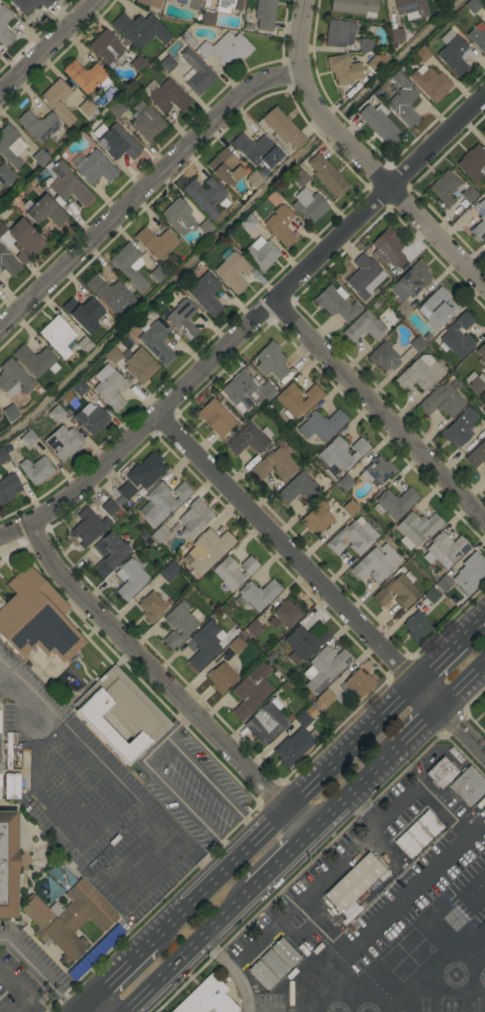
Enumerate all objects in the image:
building: (443, 0)
building: (149, 3)
building: (186, 3)
building: (29, 5)
building: (228, 5)
building: (484, 5)
building: (473, 6)
building: (355, 7)
building: (411, 8)
building: (264, 14)
building: (207, 19)
building: (2, 26)
building: (140, 30)
building: (339, 33)
building: (395, 36)
building: (477, 39)
building: (187, 40)
building: (365, 45)
road: (49, 47)
building: (107, 49)
building: (225, 49)
building: (452, 53)
building: (422, 54)
building: (376, 63)
building: (167, 64)
building: (138, 65)
building: (343, 69)
building: (195, 73)
building: (87, 76)
building: (430, 83)
building: (165, 95)
building: (58, 100)
building: (403, 100)
building: (88, 109)
building: (117, 109)
building: (148, 124)
building: (379, 124)
building: (41, 126)
building: (282, 129)
building: (118, 143)
building: (10, 146)
building: (252, 147)
building: (40, 157)
building: (270, 157)
road: (356, 158)
building: (472, 163)
building: (95, 168)
building: (225, 168)
building: (264, 172)
building: (5, 176)
building: (327, 176)
building: (300, 178)
building: (254, 180)
building: (67, 185)
building: (444, 188)
road: (140, 189)
building: (469, 194)
building: (206, 196)
building: (59, 202)
building: (308, 205)
building: (45, 212)
building: (177, 215)
building: (482, 219)
road: (231, 221)
building: (248, 223)
building: (279, 225)
building: (206, 227)
building: (2, 229)
building: (24, 241)
building: (155, 242)
building: (387, 248)
building: (261, 255)
building: (8, 262)
building: (129, 265)
building: (232, 271)
building: (157, 274)
building: (365, 277)
building: (258, 278)
building: (413, 279)
building: (205, 294)
building: (111, 295)
building: (335, 303)
building: (376, 306)
building: (403, 309)
building: (435, 309)
building: (84, 313)
building: (183, 319)
road: (249, 326)
building: (364, 327)
building: (58, 336)
building: (458, 336)
building: (427, 337)
building: (156, 343)
building: (417, 344)
building: (84, 345)
building: (481, 352)
building: (113, 355)
building: (126, 355)
building: (383, 357)
building: (35, 360)
building: (271, 361)
building: (140, 365)
building: (419, 373)
building: (471, 376)
building: (13, 378)
building: (477, 384)
building: (110, 387)
building: (79, 388)
building: (239, 390)
building: (267, 391)
building: (297, 400)
building: (442, 400)
road: (379, 409)
building: (9, 412)
building: (56, 413)
building: (0, 416)
building: (91, 418)
building: (215, 418)
building: (484, 421)
building: (322, 425)
building: (459, 428)
building: (28, 438)
building: (249, 439)
building: (63, 442)
building: (341, 453)
building: (3, 455)
building: (476, 455)
building: (275, 465)
building: (36, 470)
building: (146, 471)
building: (377, 471)
building: (345, 483)
building: (8, 488)
building: (299, 489)
building: (126, 491)
building: (120, 502)
building: (162, 502)
building: (394, 503)
building: (110, 508)
building: (350, 508)
building: (194, 518)
building: (317, 519)
building: (417, 529)
building: (85, 531)
building: (160, 535)
building: (144, 537)
building: (353, 537)
building: (138, 542)
building: (444, 549)
building: (208, 550)
building: (109, 554)
building: (376, 563)
building: (234, 571)
building: (169, 572)
building: (470, 573)
building: (130, 578)
building: (443, 583)
road: (322, 586)
building: (397, 591)
building: (258, 594)
building: (431, 595)
building: (1, 603)
building: (151, 606)
building: (287, 613)
building: (263, 617)
building: (37, 623)
building: (179, 623)
building: (416, 626)
building: (254, 629)
road: (472, 632)
building: (304, 642)
building: (205, 644)
building: (237, 646)
building: (270, 658)
road: (438, 664)
building: (325, 668)
building: (277, 674)
building: (221, 677)
building: (357, 684)
road: (163, 685)
road: (10, 687)
road: (463, 687)
building: (251, 691)
building: (309, 698)
building: (326, 698)
building: (297, 707)
building: (484, 713)
building: (120, 715)
building: (303, 719)
building: (265, 723)
road: (422, 726)
building: (12, 747)
building: (292, 748)
building: (0, 754)
road: (159, 755)
building: (441, 772)
road: (107, 773)
building: (468, 785)
building: (10, 786)
parking lot: (192, 788)
road: (356, 791)
road: (62, 792)
parking lot: (92, 805)
road: (46, 811)
road: (284, 813)
road: (363, 813)
building: (429, 823)
building: (418, 834)
road: (363, 840)
building: (407, 845)
road: (138, 856)
road: (282, 863)
building: (8, 865)
building: (354, 882)
building: (68, 919)
road: (191, 951)
building: (286, 953)
building: (92, 957)
building: (274, 964)
road: (37, 973)
road: (231, 974)
building: (263, 976)
road: (112, 977)
road: (19, 990)
building: (207, 998)

